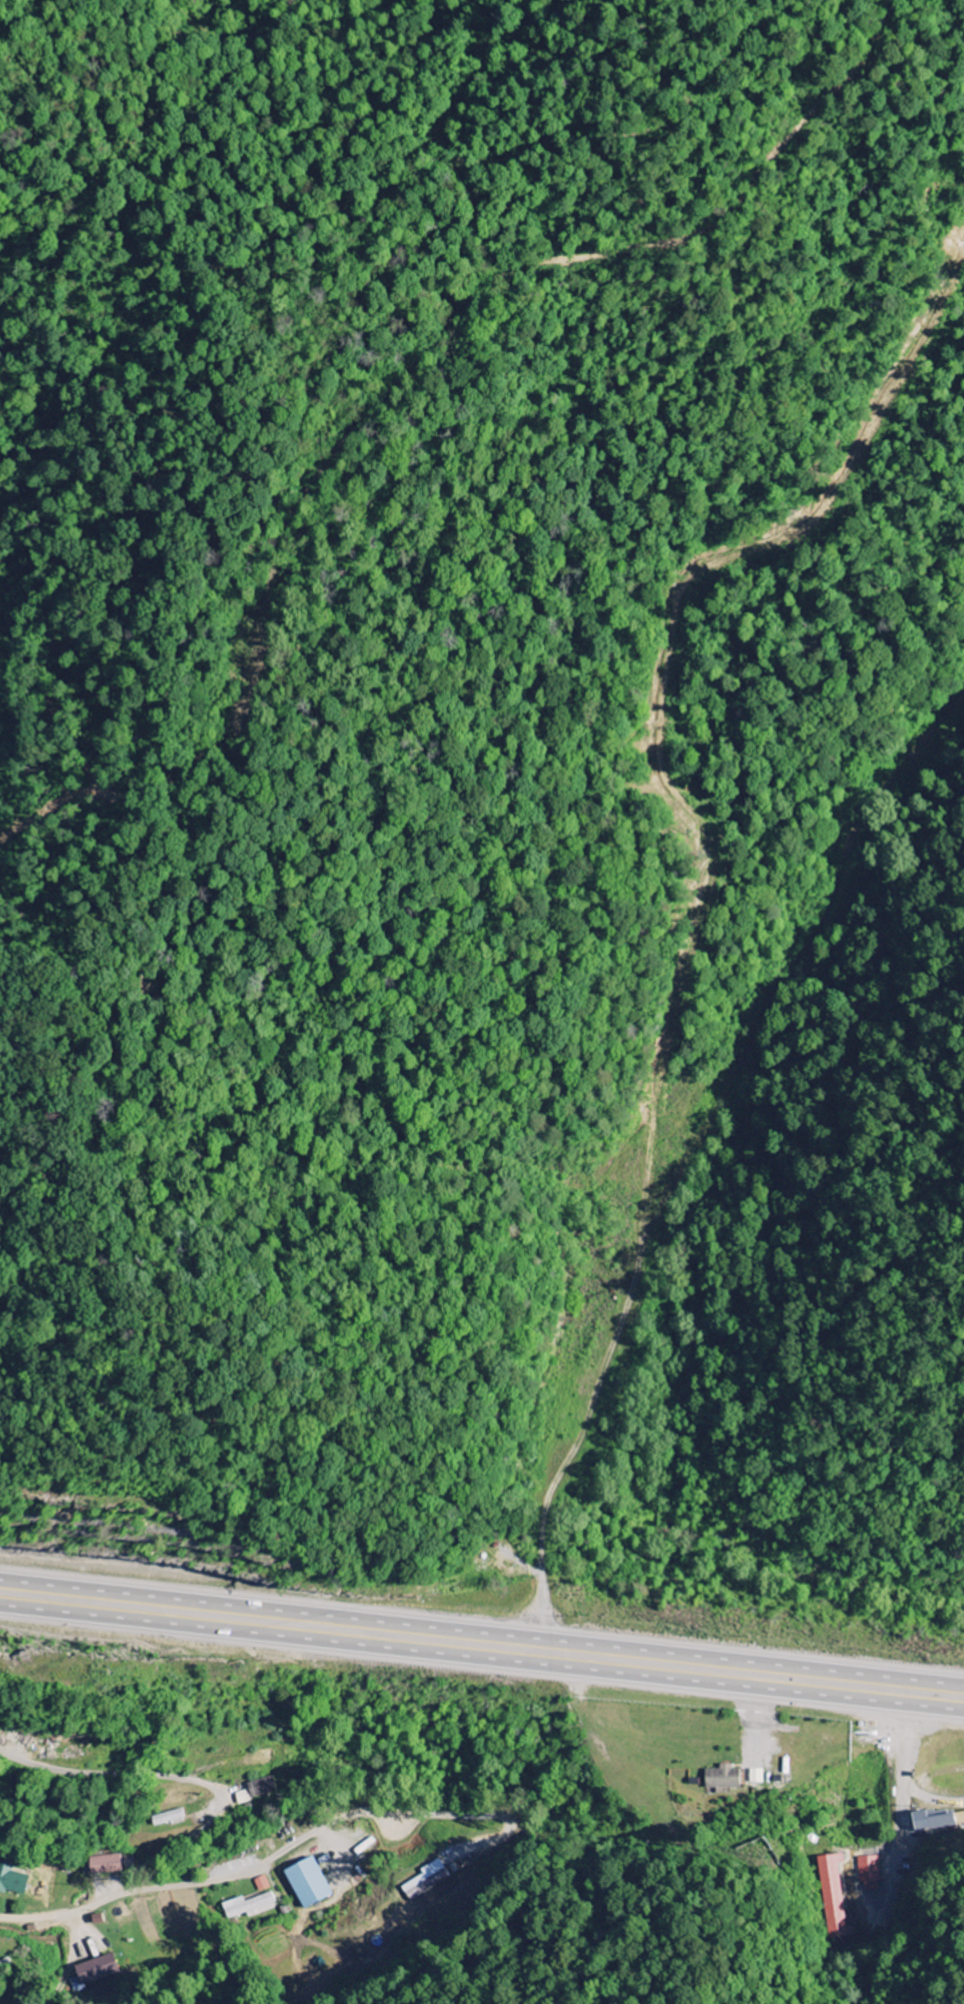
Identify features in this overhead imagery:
road: (482, 1629)
road: (482, 1657)
road: (112, 1772)
building: (755, 1776)
building: (721, 1777)
building: (257, 1790)
building: (167, 1817)
building: (931, 1821)
building: (102, 1864)
building: (868, 1872)
building: (11, 1880)
road: (202, 1880)
building: (425, 1880)
building: (306, 1882)
building: (261, 1884)
building: (833, 1896)
building: (248, 1906)
building: (95, 1970)

